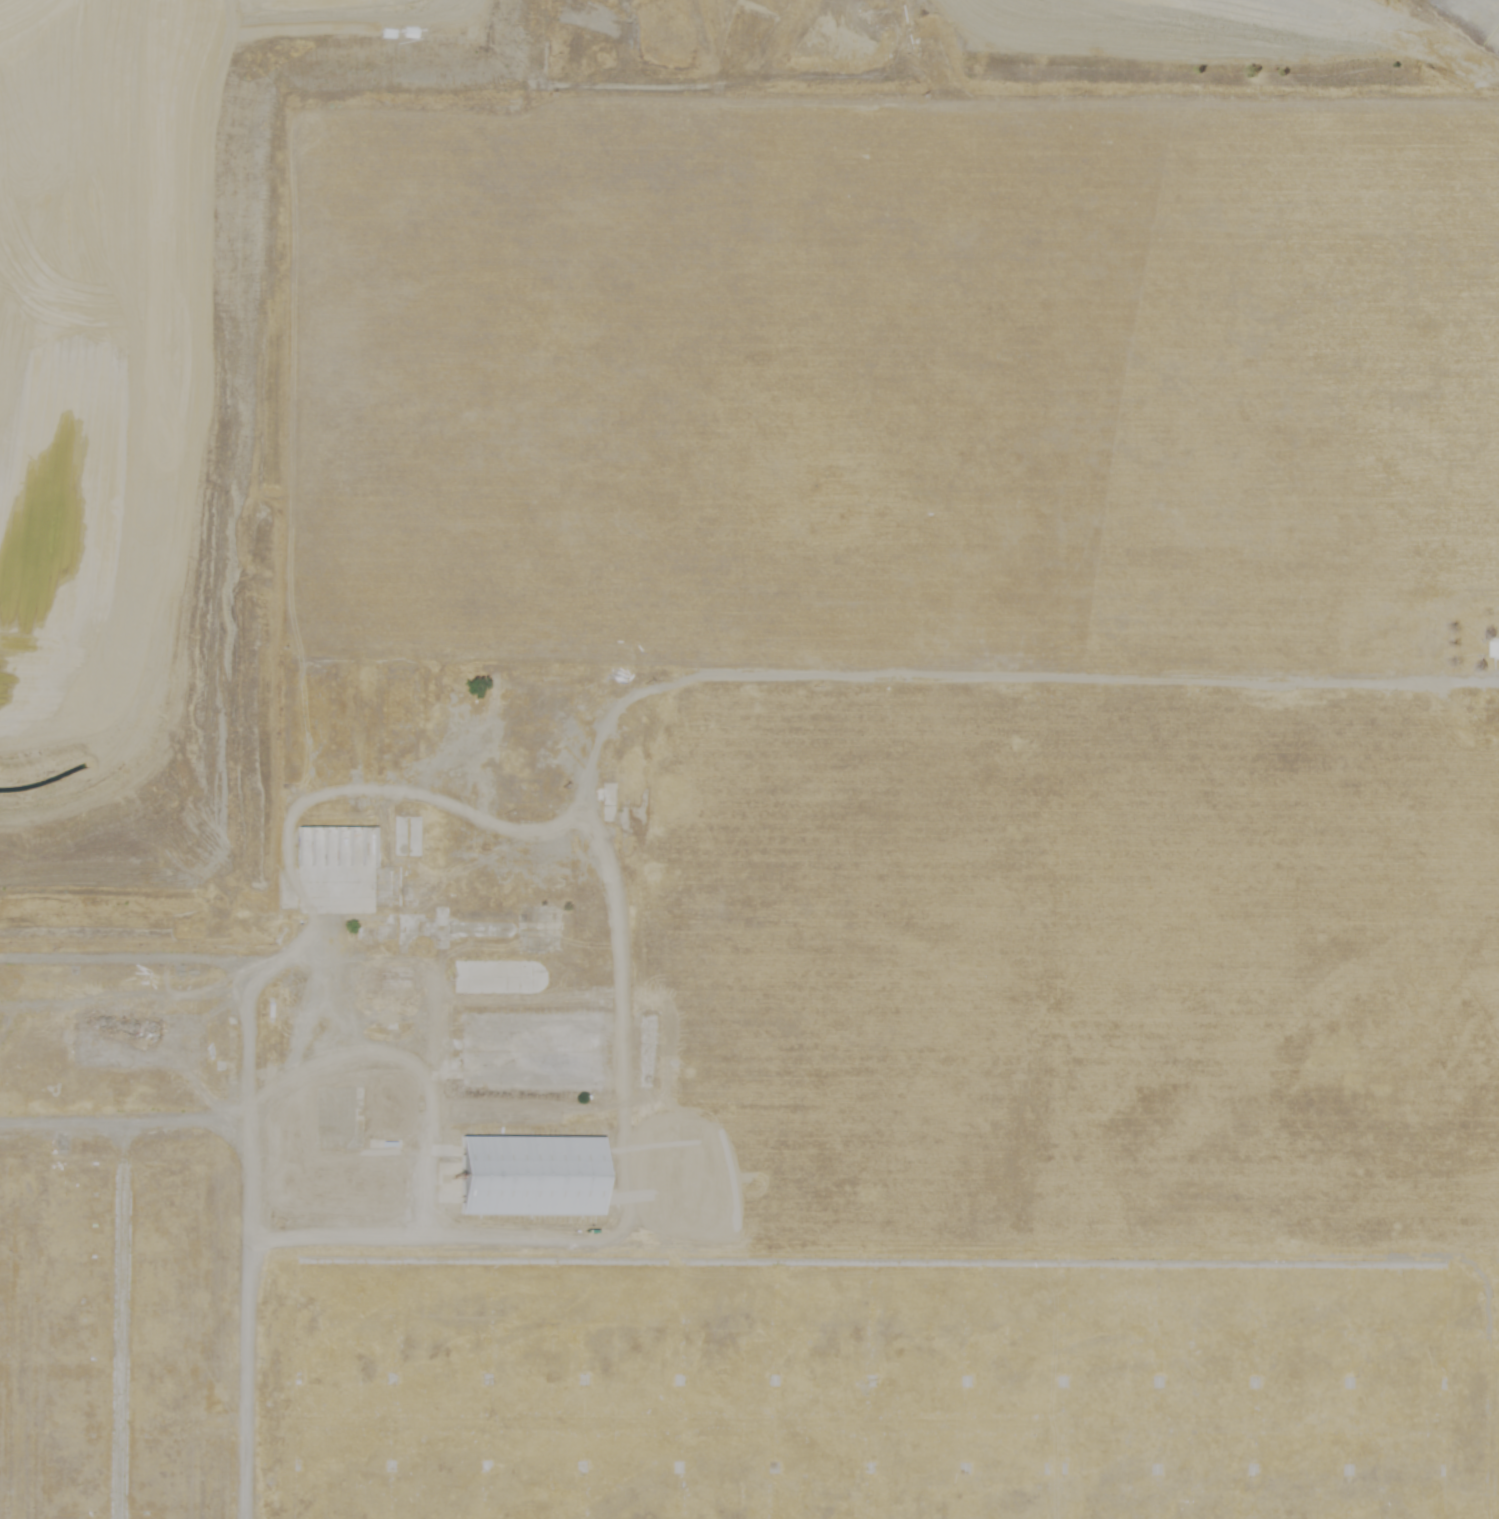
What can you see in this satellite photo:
road: (902, 95)
crop: (948, 588)
road: (549, 768)
road: (122, 933)
road: (112, 1138)
road: (428, 1145)
building: (528, 1175)
road: (108, 1329)

